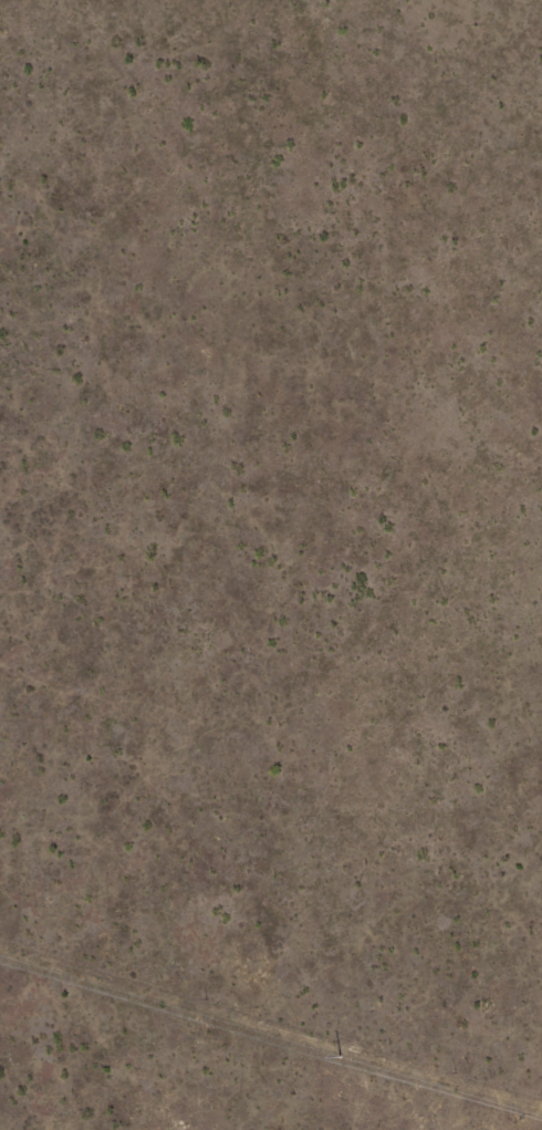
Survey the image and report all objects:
power tower: (341, 1057)

